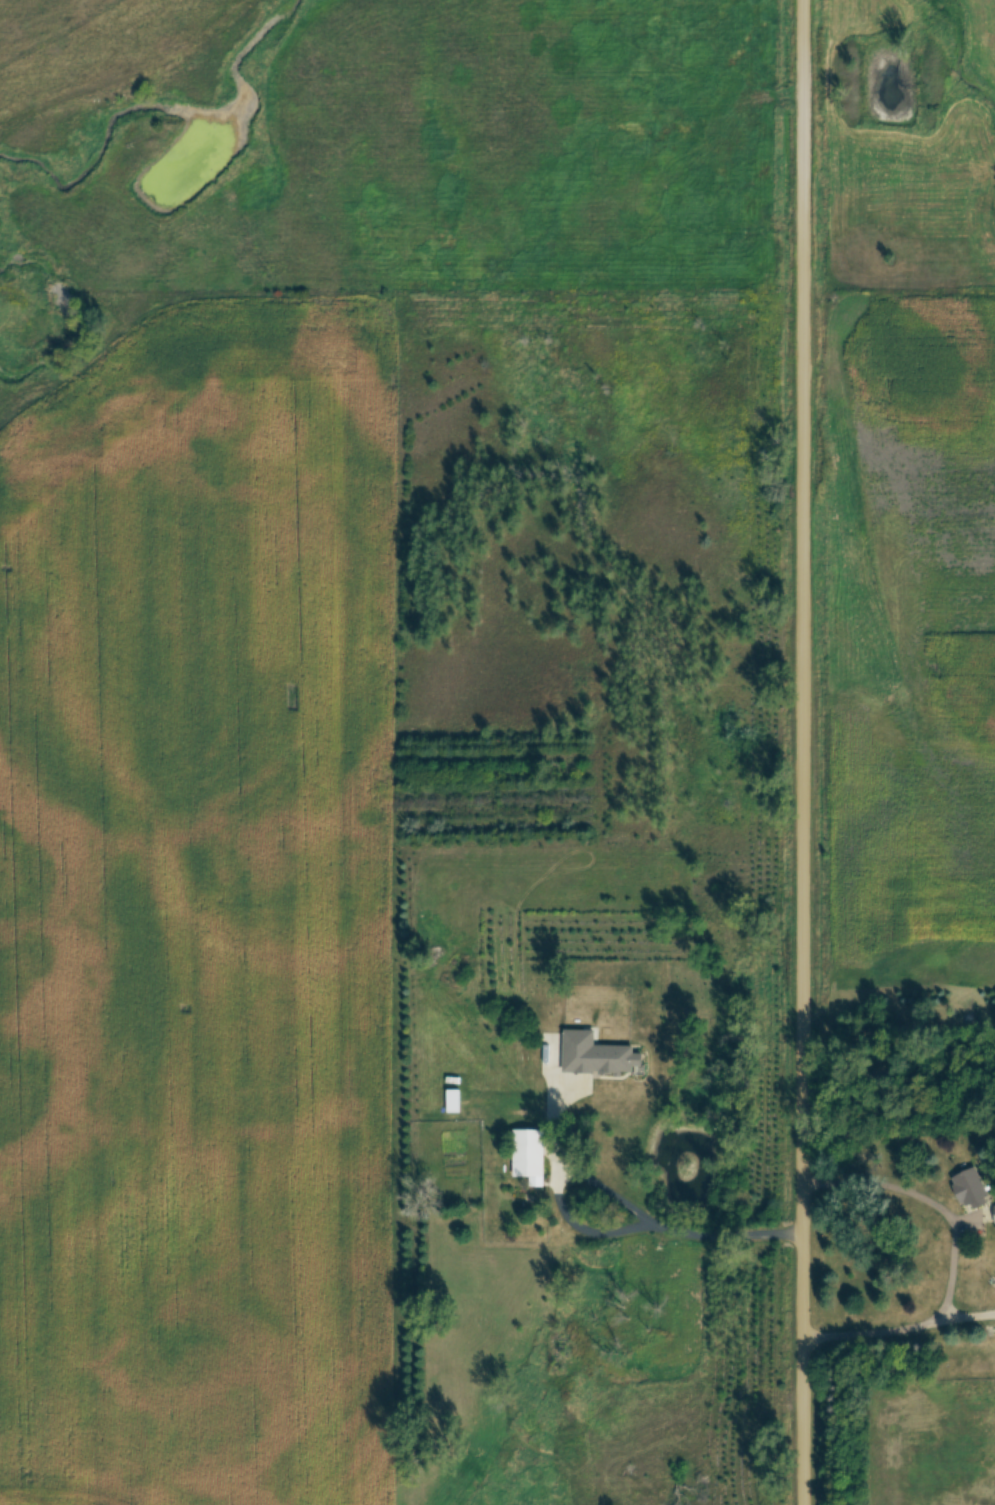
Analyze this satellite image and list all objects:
road: (806, 752)
building: (602, 1121)
building: (529, 1153)
building: (971, 1188)
road: (650, 1220)
road: (921, 1324)

